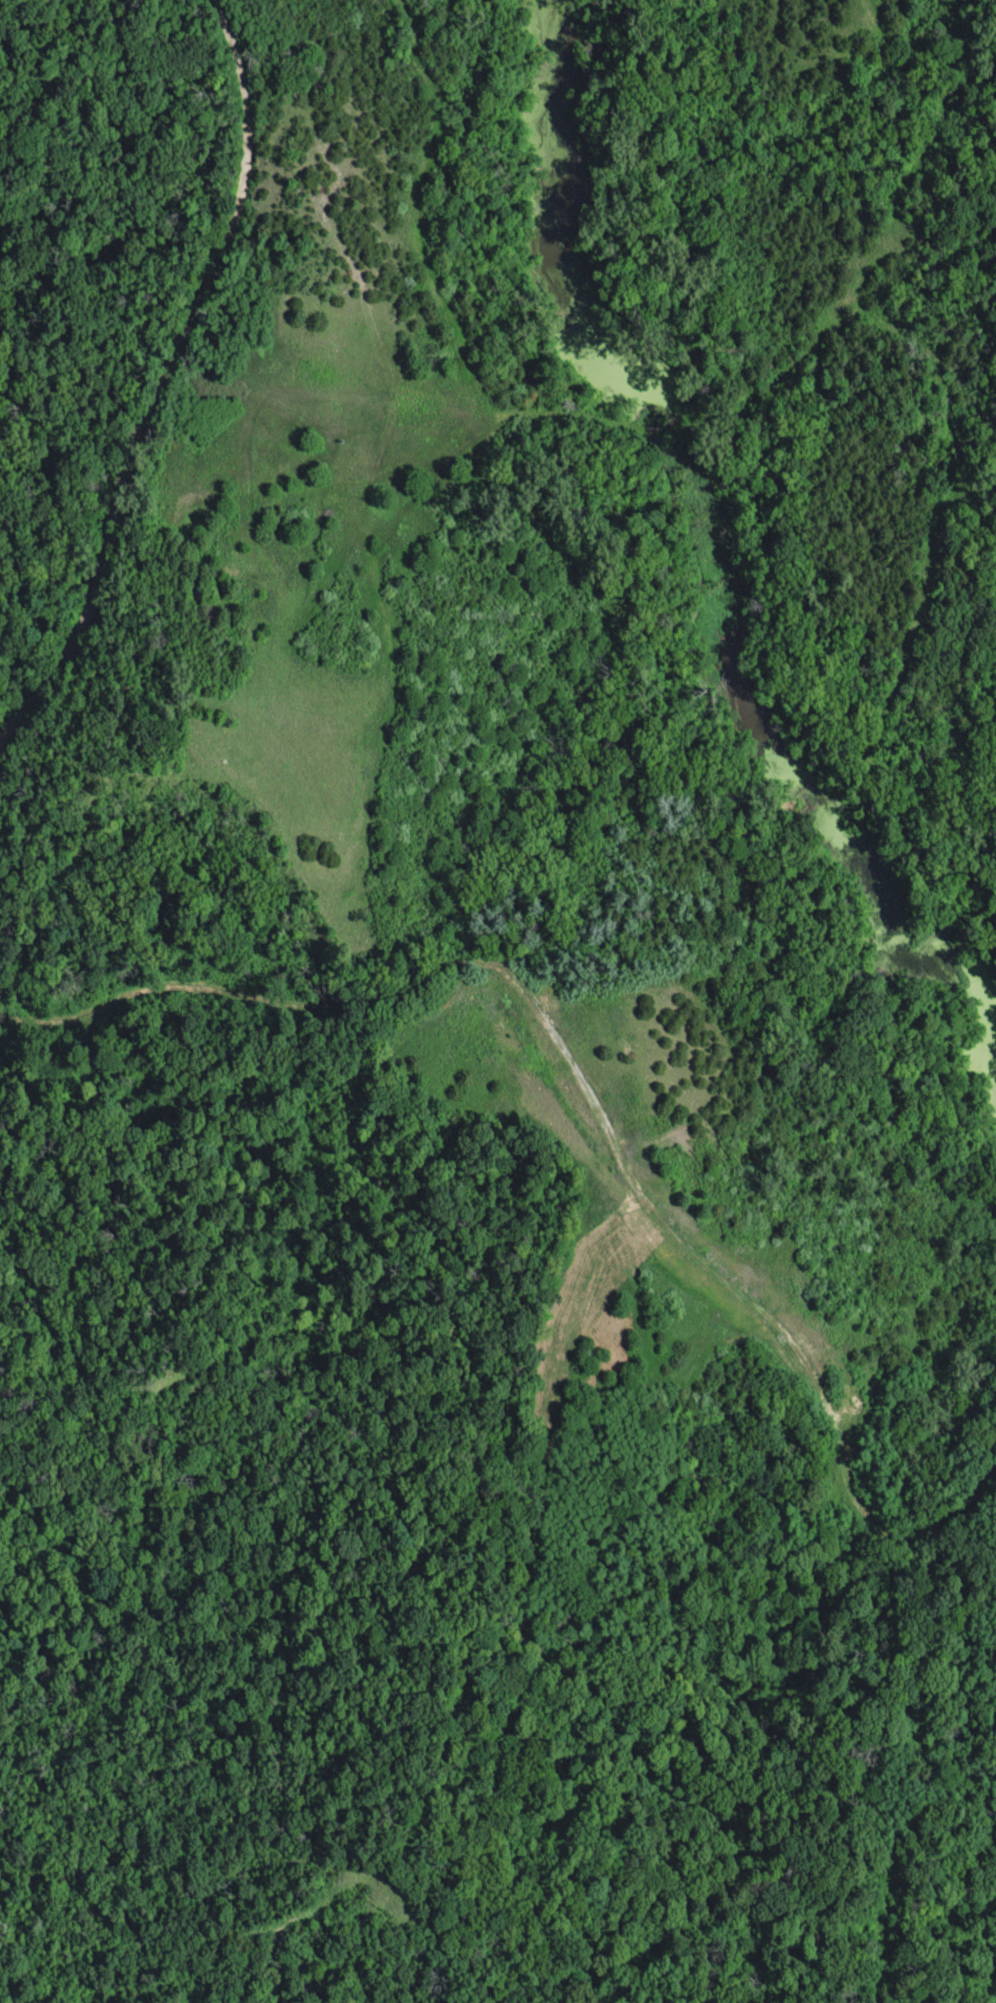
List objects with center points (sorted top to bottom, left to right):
road: (164, 389)

